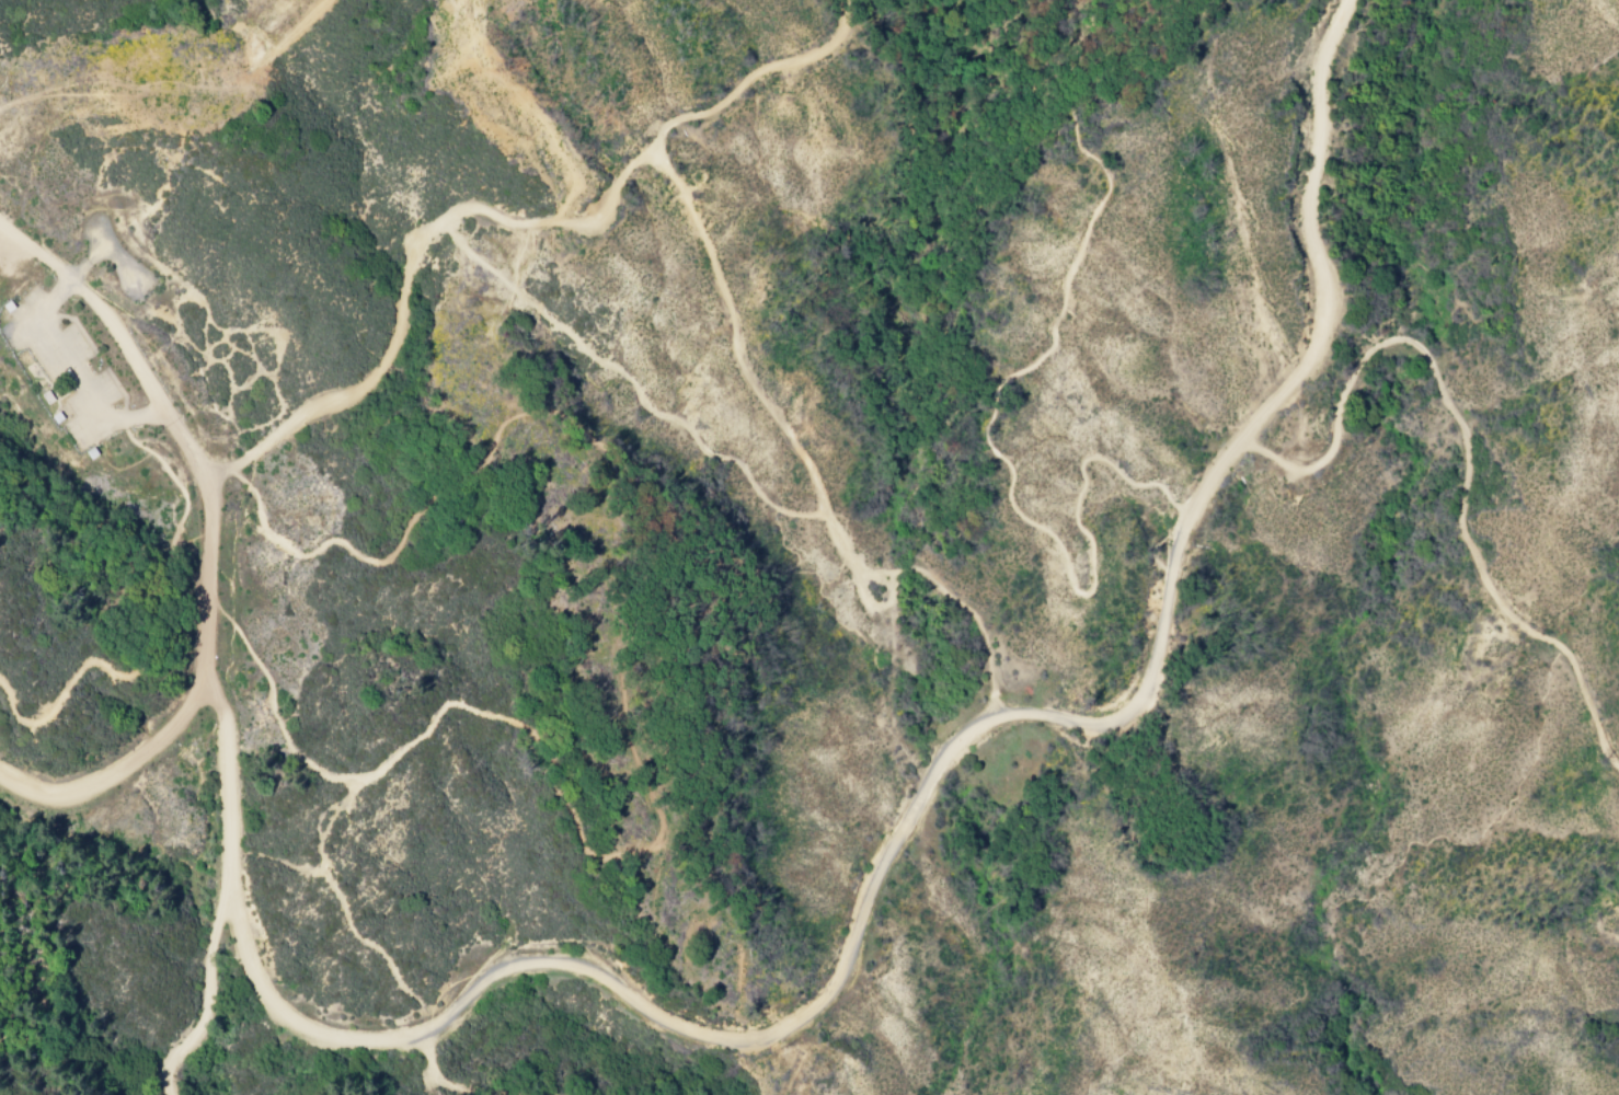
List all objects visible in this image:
road: (503, 221)
road: (136, 234)
road: (106, 247)
parking lot: (120, 262)
road: (115, 335)
road: (257, 367)
parking lot: (55, 372)
road: (67, 374)
road: (627, 385)
road: (983, 423)
road: (1250, 428)
road: (805, 464)
road: (202, 578)
road: (163, 602)
road: (871, 603)
road: (612, 691)
road: (117, 773)
road: (543, 964)
road: (207, 999)

